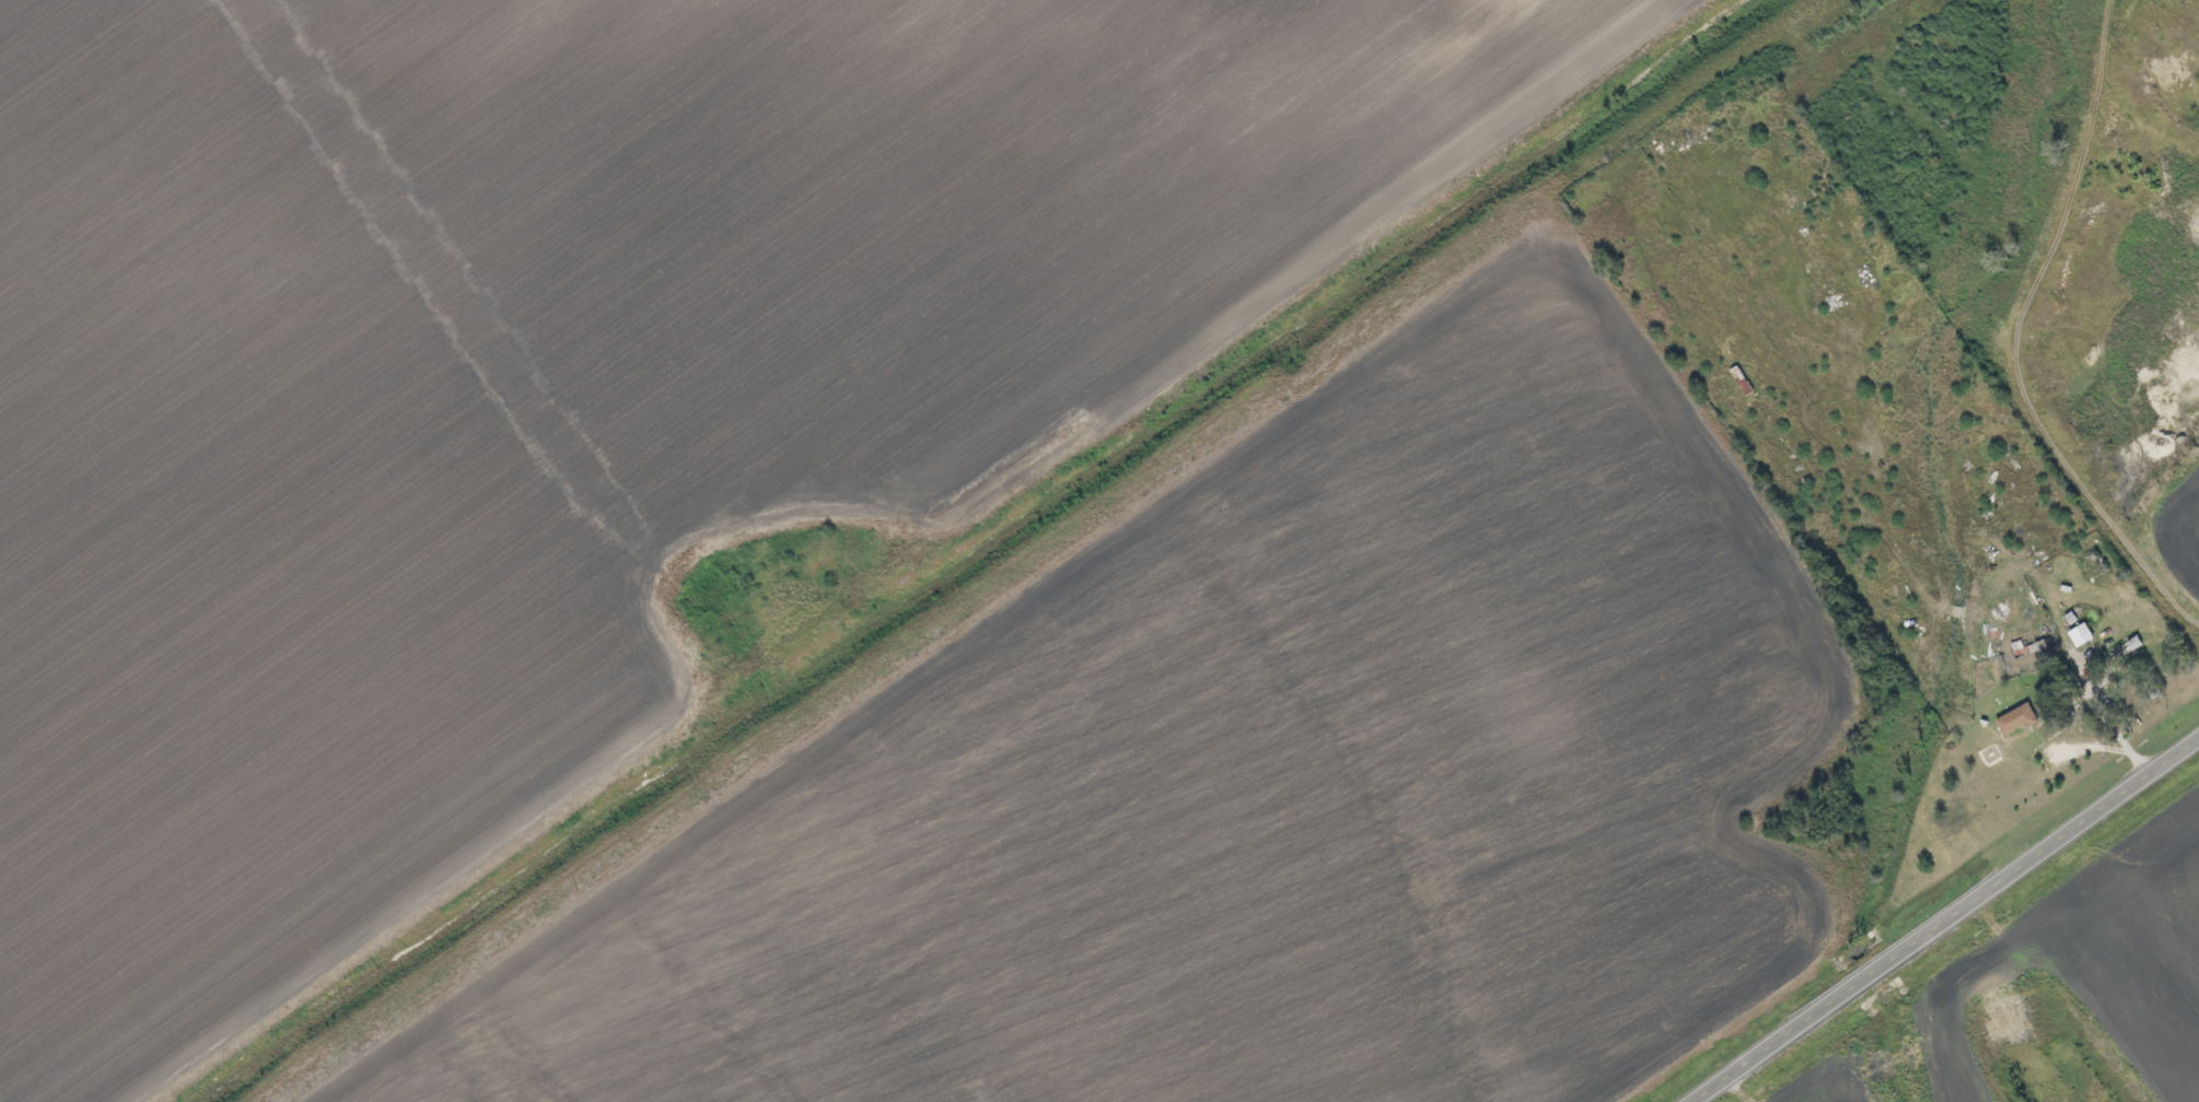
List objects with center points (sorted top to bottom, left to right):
building: (2015, 722)
road: (1946, 921)
road: (1965, 990)

